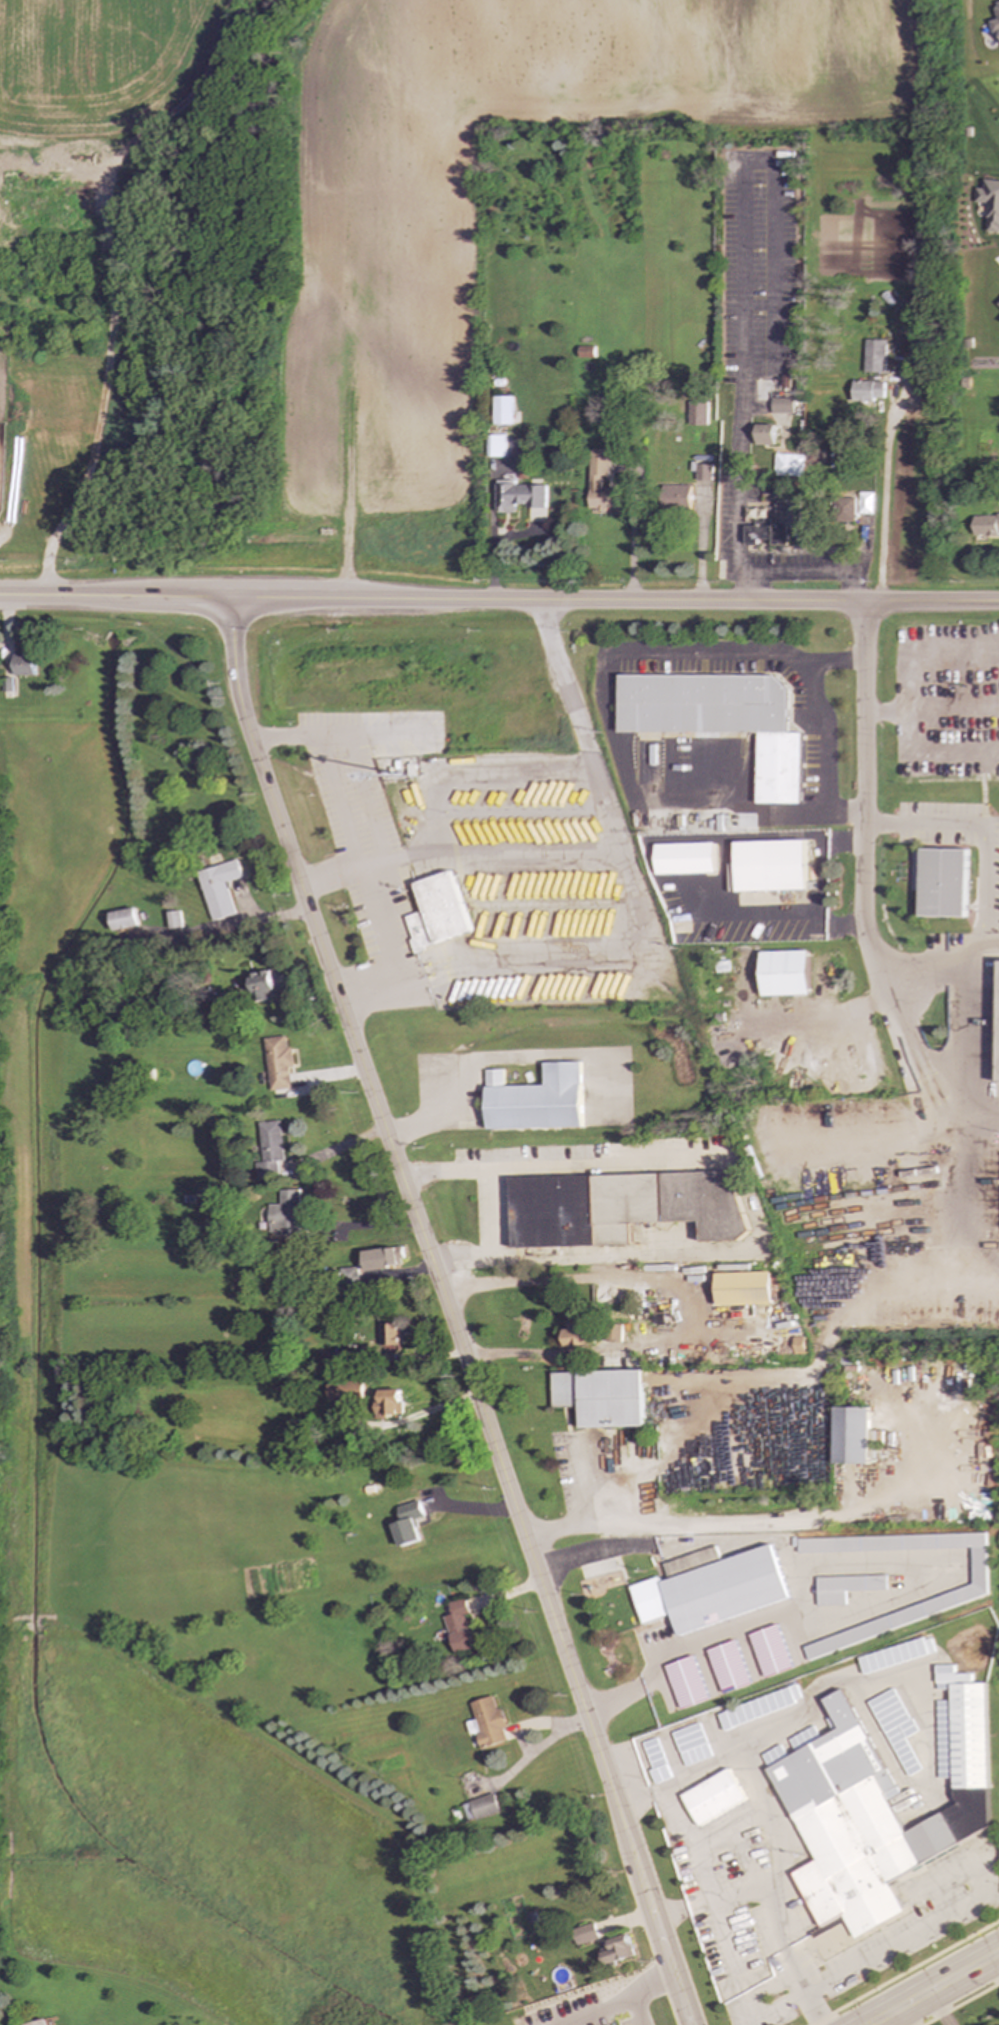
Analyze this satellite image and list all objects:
building: (995, 20)
crop: (96, 63)
building: (989, 203)
road: (747, 269)
road: (115, 279)
building: (997, 302)
crop: (383, 347)
building: (586, 352)
building: (875, 356)
building: (867, 391)
building: (782, 405)
building: (503, 410)
building: (697, 413)
building: (765, 434)
building: (495, 445)
building: (833, 453)
building: (788, 465)
building: (703, 471)
building: (600, 482)
building: (518, 496)
road: (887, 496)
building: (676, 497)
building: (846, 510)
building: (986, 525)
building: (780, 526)
road: (630, 546)
road: (490, 548)
road: (813, 570)
road: (499, 601)
road: (926, 655)
building: (24, 664)
road: (885, 707)
road: (607, 717)
building: (719, 719)
road: (821, 734)
road: (333, 761)
road: (925, 762)
road: (863, 804)
road: (928, 816)
road: (459, 854)
building: (684, 859)
building: (769, 866)
road: (989, 882)
building: (942, 883)
building: (218, 888)
building: (437, 912)
building: (122, 919)
building: (173, 920)
road: (646, 922)
road: (939, 961)
building: (784, 973)
building: (264, 984)
road: (959, 1016)
building: (997, 1025)
road: (478, 1059)
building: (277, 1062)
road: (930, 1064)
building: (535, 1099)
building: (268, 1150)
road: (743, 1197)
building: (619, 1207)
building: (283, 1213)
building: (381, 1258)
building: (347, 1277)
building: (741, 1289)
road: (686, 1299)
road: (448, 1315)
road: (719, 1325)
building: (388, 1334)
building: (577, 1336)
building: (796, 1345)
road: (815, 1360)
building: (343, 1391)
building: (599, 1397)
building: (389, 1402)
road: (422, 1413)
building: (849, 1435)
road: (779, 1523)
building: (407, 1524)
road: (765, 1540)
road: (594, 1552)
building: (844, 1587)
building: (709, 1588)
building: (458, 1626)
road: (701, 1642)
building: (769, 1651)
building: (895, 1655)
building: (727, 1667)
building: (684, 1682)
road: (611, 1698)
building: (757, 1707)
building: (486, 1723)
building: (894, 1728)
building: (689, 1744)
building: (654, 1761)
building: (710, 1797)
building: (877, 1804)
building: (479, 1807)
road: (966, 1900)
road: (763, 1907)
building: (584, 1934)
building: (617, 1949)
road: (991, 1959)
road: (903, 1971)
road: (929, 1981)
park: (998, 1989)
road: (947, 1994)
road: (621, 1999)
road: (960, 2003)
road: (935, 2005)
building: (39, 2023)

